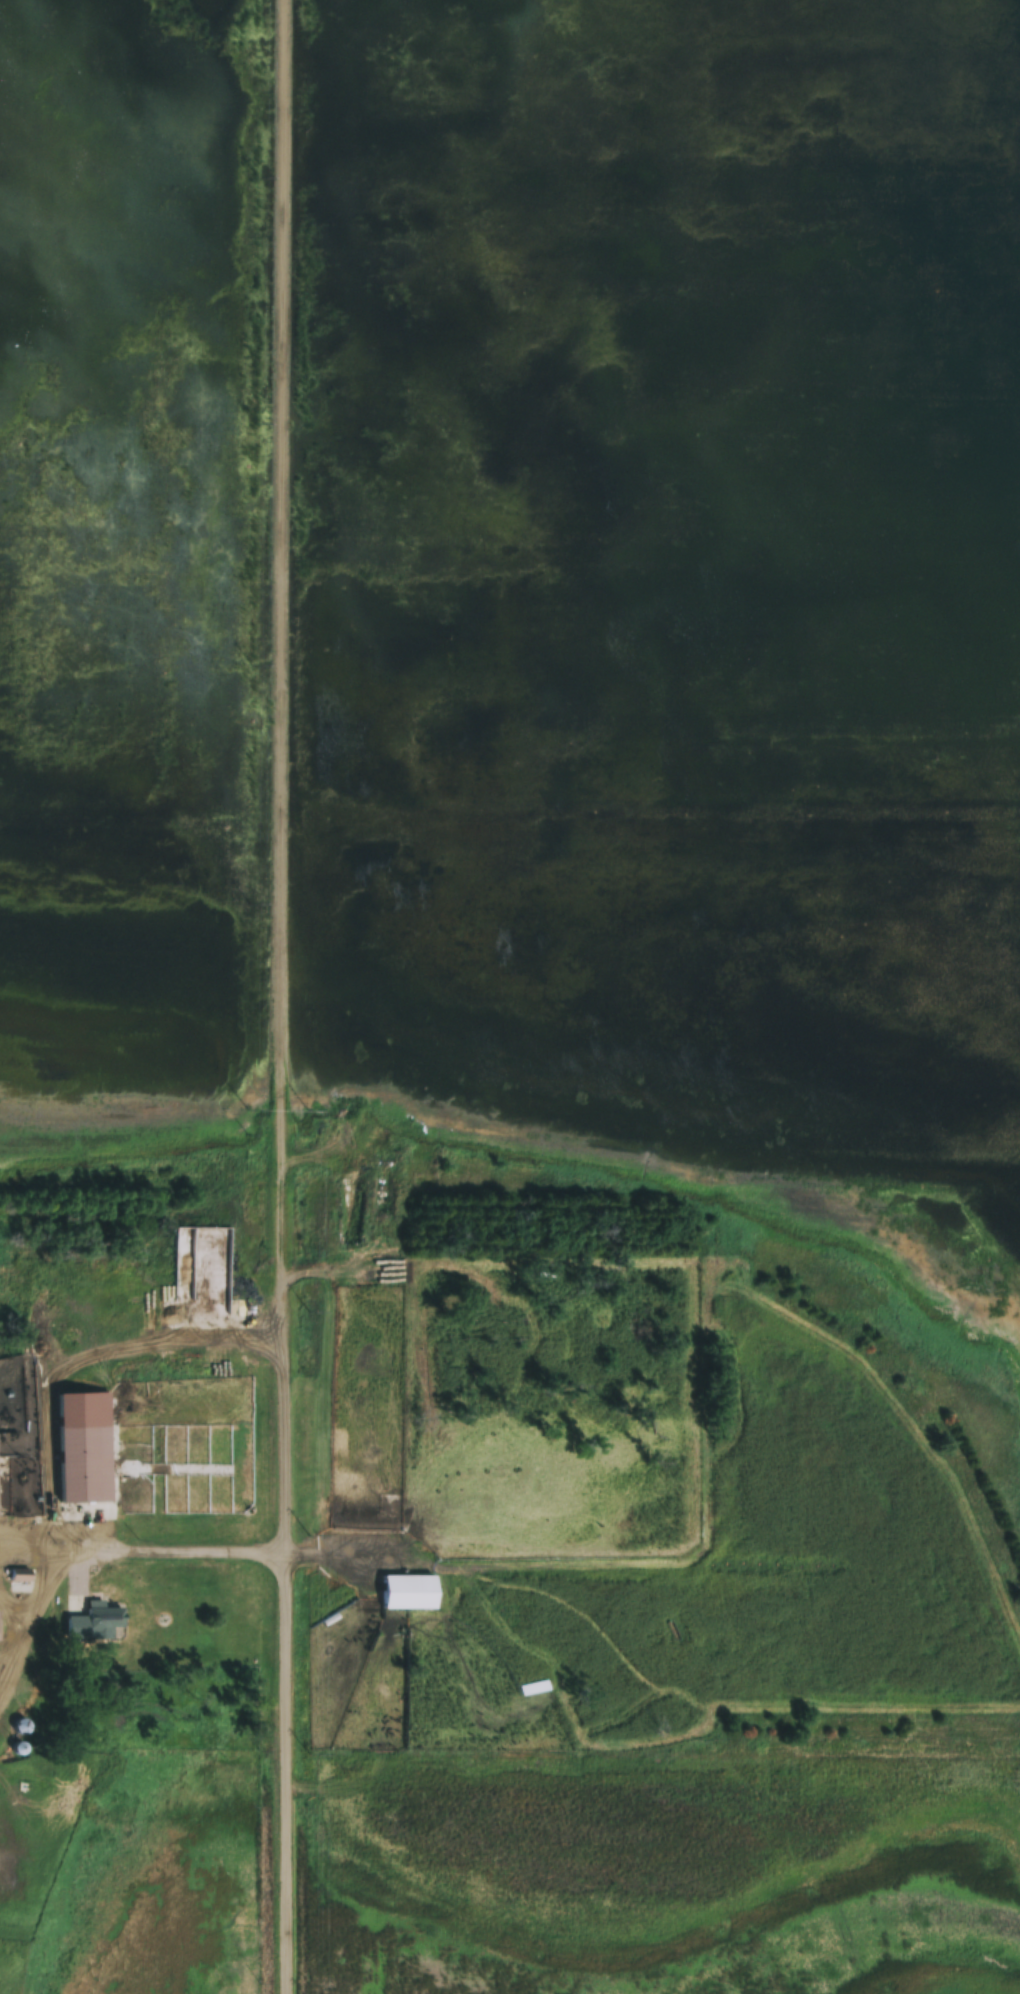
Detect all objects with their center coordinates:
road: (282, 997)
building: (352, 1213)
building: (84, 1465)
road: (99, 1556)
building: (407, 1592)
building: (366, 1604)
building: (96, 1624)
building: (20, 1728)
building: (734, 1745)

